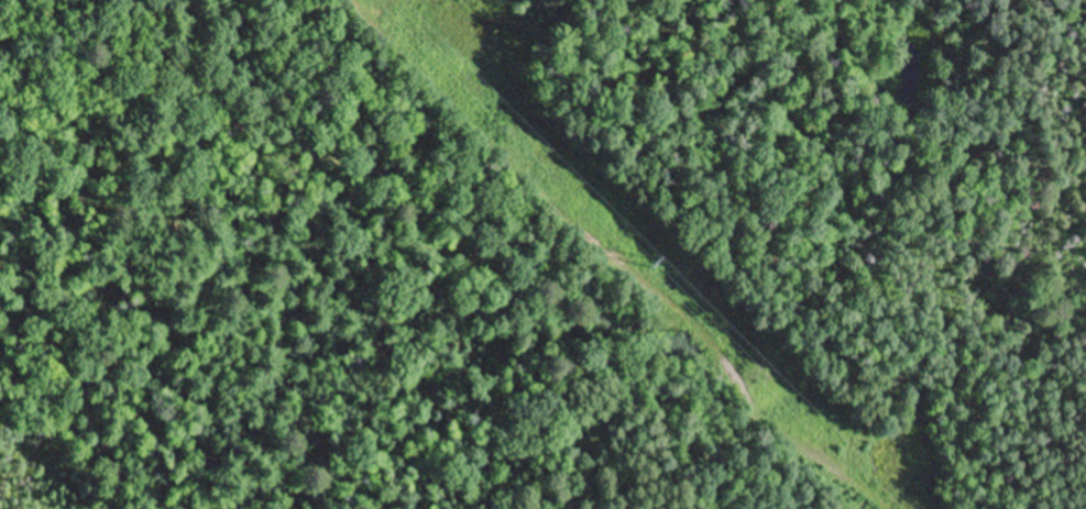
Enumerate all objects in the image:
power tower: (654, 264)

